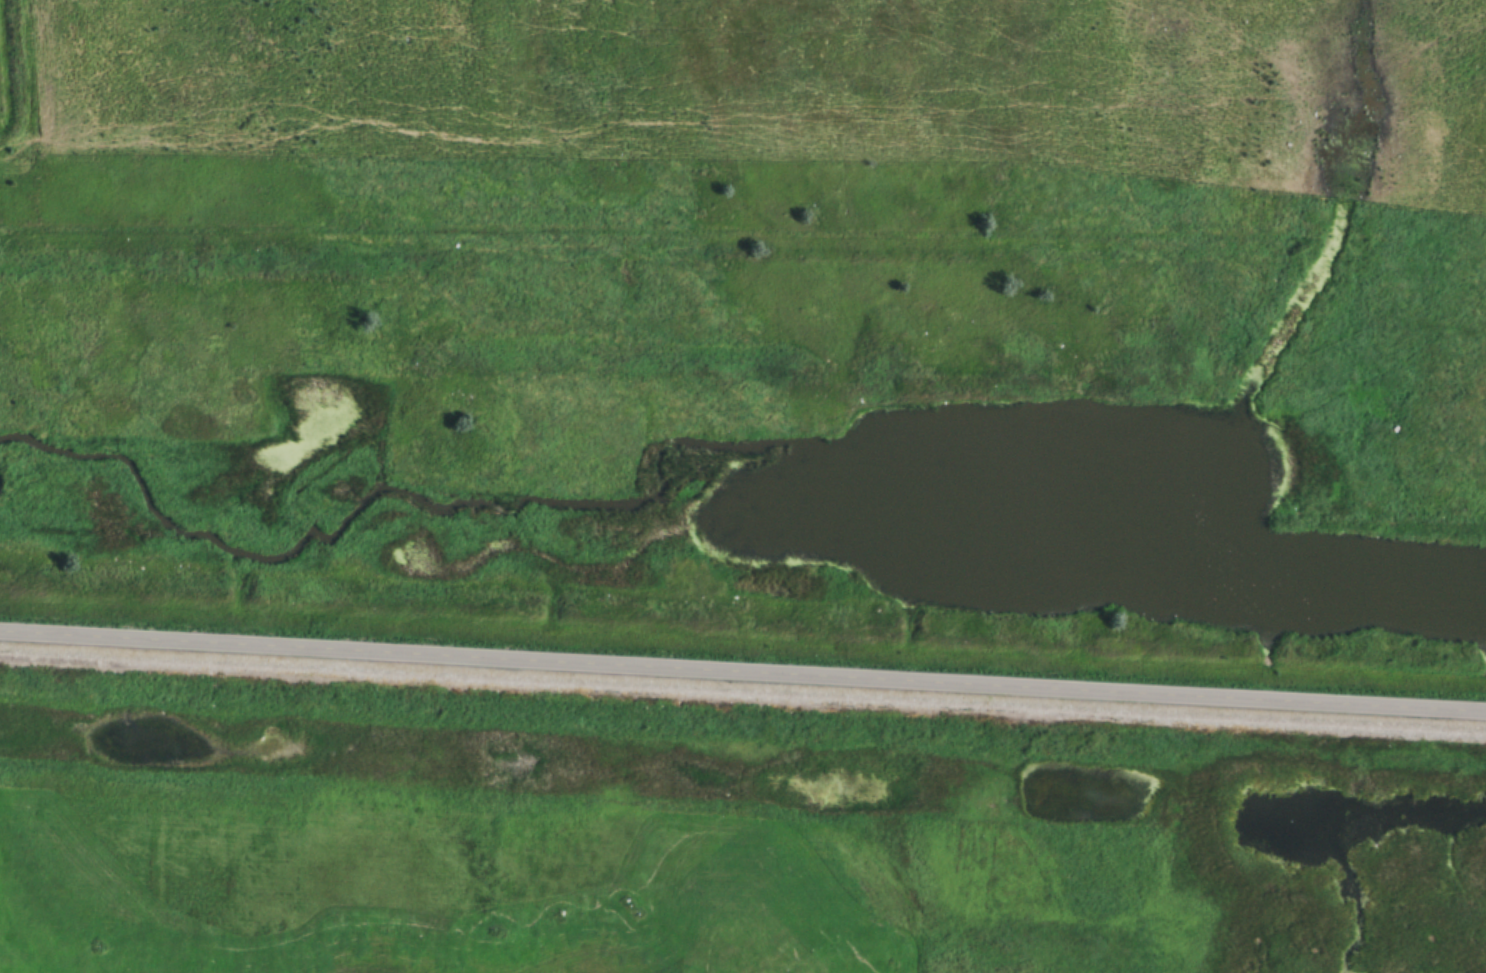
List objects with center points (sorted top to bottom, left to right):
road: (743, 671)

